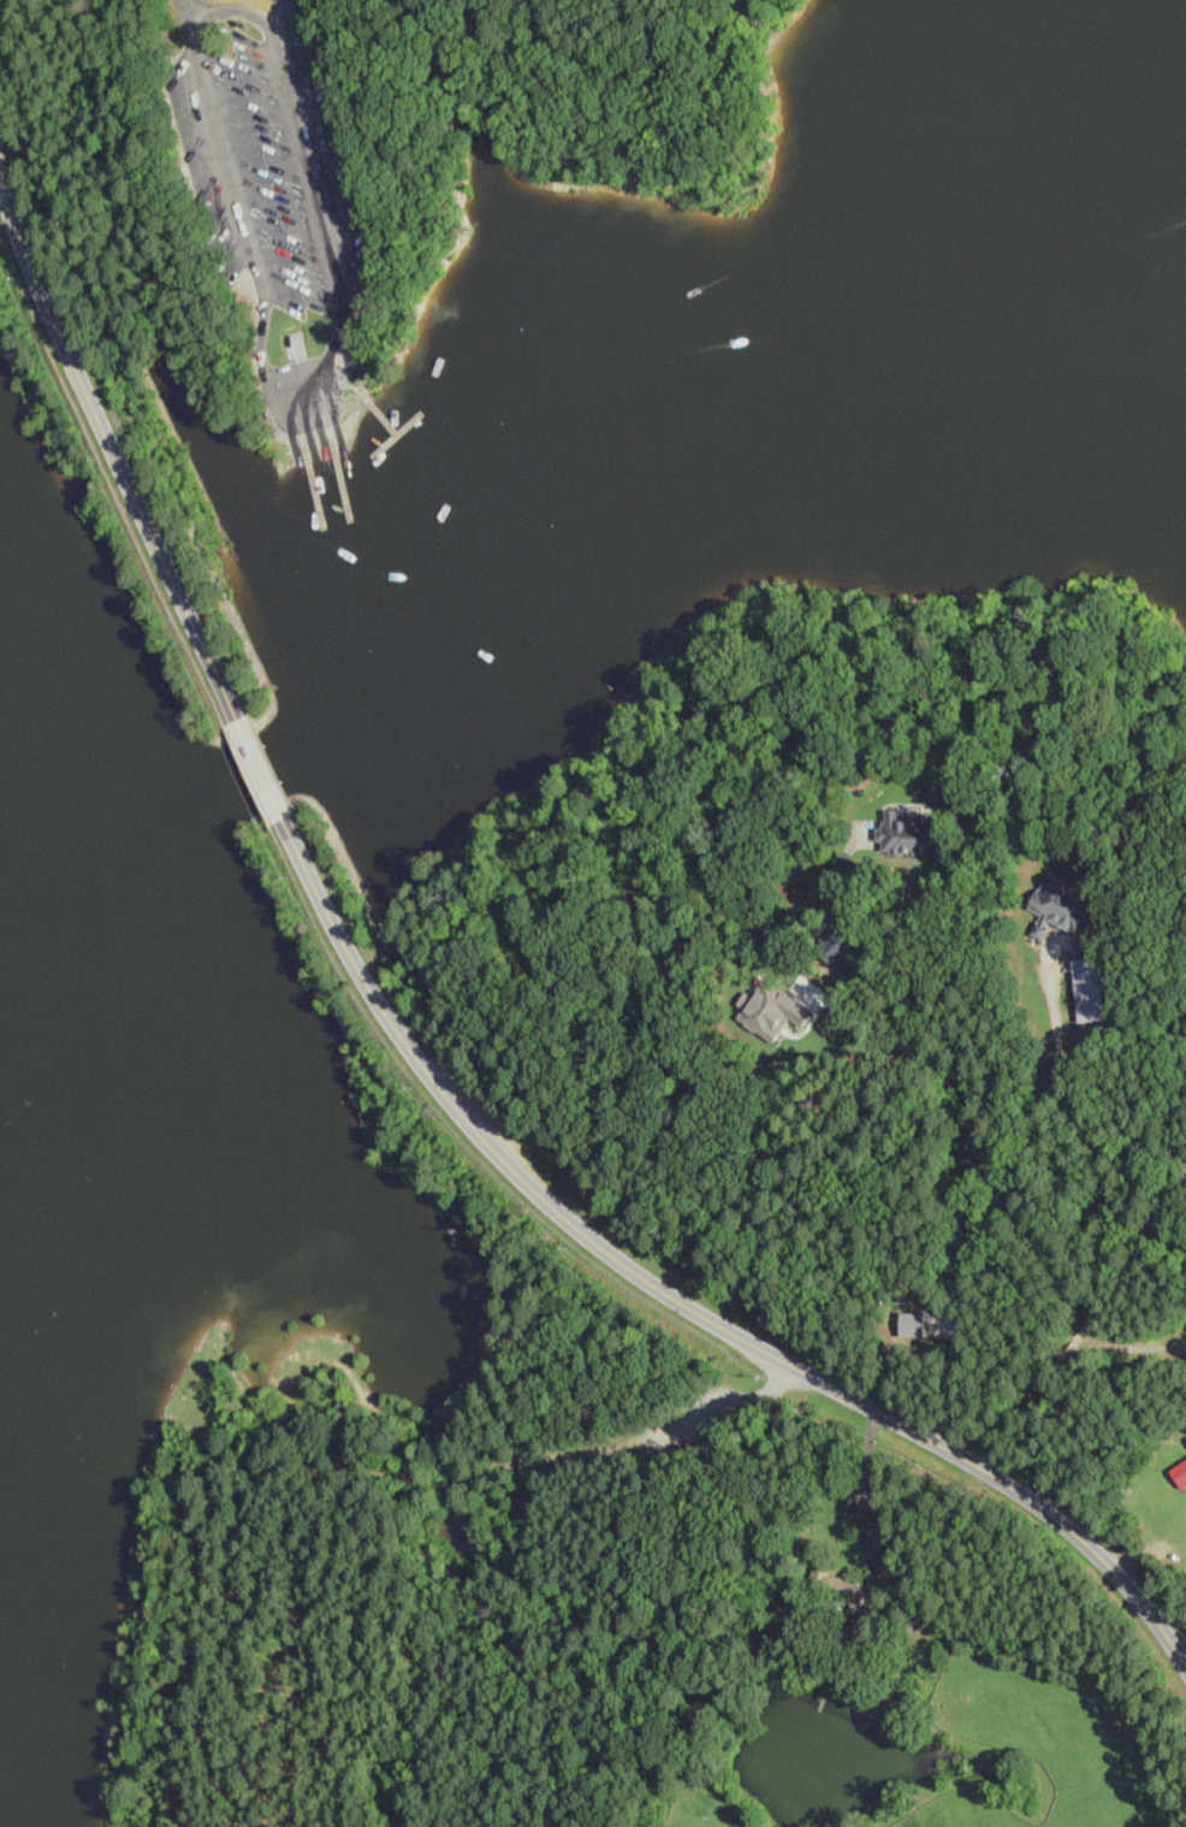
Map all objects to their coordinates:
road: (247, 10)
parking lot: (273, 165)
road: (295, 383)
road: (350, 385)
pier: (378, 410)
road: (336, 414)
road: (321, 419)
road: (309, 421)
road: (290, 425)
pier: (397, 433)
road: (113, 447)
pier: (336, 450)
pier: (309, 456)
road: (759, 752)
road: (261, 768)
building: (911, 833)
building: (1061, 912)
road: (360, 966)
building: (1089, 991)
park: (542, 995)
building: (772, 1009)
road: (894, 1035)
road: (969, 1082)
road: (1113, 1216)
road: (1131, 1346)
road: (824, 1379)
building: (1180, 1472)
building: (844, 1589)
road: (950, 1616)
pier: (823, 1701)

